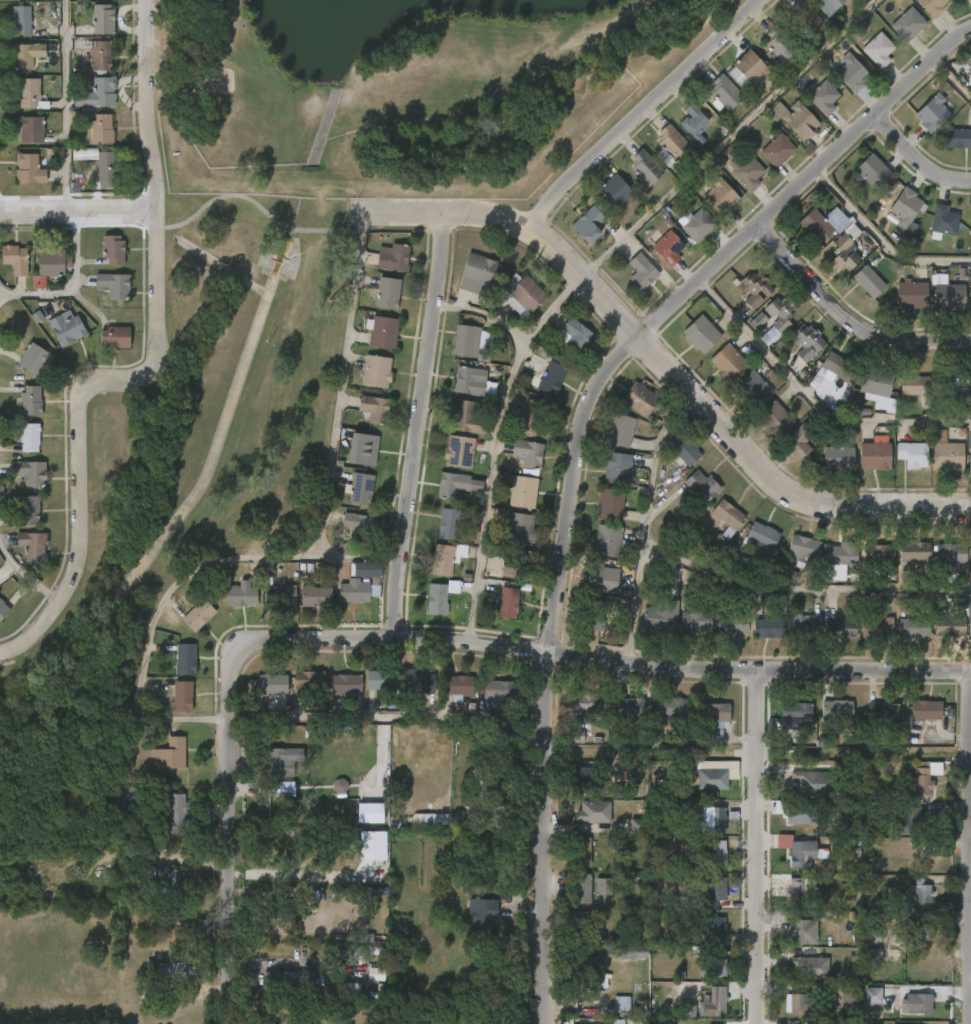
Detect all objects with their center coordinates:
building: (829, 4)
building: (933, 6)
building: (805, 16)
building: (102, 18)
building: (20, 19)
building: (907, 24)
building: (779, 42)
building: (878, 49)
building: (25, 54)
building: (100, 55)
building: (750, 65)
building: (850, 72)
road: (950, 82)
building: (100, 91)
building: (725, 91)
building: (29, 94)
building: (823, 98)
road: (64, 105)
road: (642, 112)
building: (929, 113)
building: (794, 118)
building: (694, 122)
building: (29, 128)
building: (102, 130)
road: (727, 137)
building: (955, 138)
building: (671, 144)
building: (777, 149)
building: (84, 154)
road: (919, 155)
building: (104, 166)
building: (645, 166)
building: (27, 168)
building: (869, 170)
building: (746, 172)
building: (615, 190)
building: (720, 196)
road: (258, 206)
building: (902, 207)
road: (80, 212)
building: (942, 220)
building: (589, 223)
building: (970, 224)
building: (696, 225)
building: (816, 226)
road: (882, 242)
building: (667, 247)
building: (113, 249)
building: (843, 254)
building: (392, 257)
building: (16, 259)
park: (314, 259)
building: (52, 264)
building: (477, 268)
building: (641, 272)
building: (869, 281)
building: (115, 285)
building: (755, 289)
building: (387, 293)
building: (909, 294)
building: (524, 295)
building: (946, 295)
building: (969, 299)
road: (551, 307)
road: (849, 315)
building: (757, 323)
building: (67, 328)
building: (381, 331)
building: (700, 334)
building: (573, 335)
building: (115, 338)
building: (466, 340)
building: (805, 340)
building: (32, 358)
road: (665, 358)
building: (728, 362)
road: (155, 369)
building: (832, 369)
building: (376, 371)
building: (551, 378)
building: (468, 381)
building: (954, 384)
building: (916, 385)
building: (876, 387)
building: (754, 389)
building: (639, 400)
building: (30, 401)
road: (813, 401)
building: (374, 409)
building: (531, 416)
building: (467, 417)
building: (775, 419)
road: (418, 426)
building: (619, 430)
building: (28, 437)
road: (494, 441)
building: (798, 442)
building: (366, 449)
road: (583, 449)
building: (968, 449)
building: (684, 451)
building: (459, 452)
building: (944, 452)
building: (528, 453)
building: (910, 454)
building: (872, 455)
building: (838, 458)
building: (620, 468)
building: (28, 472)
building: (450, 485)
building: (700, 487)
building: (360, 489)
building: (522, 492)
building: (611, 503)
building: (27, 510)
building: (729, 518)
building: (447, 524)
building: (358, 526)
building: (520, 529)
building: (762, 537)
building: (609, 540)
building: (32, 546)
building: (804, 551)
building: (947, 552)
building: (839, 553)
building: (910, 553)
building: (970, 554)
road: (291, 555)
building: (875, 559)
building: (441, 560)
building: (517, 564)
building: (364, 570)
road: (721, 577)
building: (603, 579)
building: (353, 592)
building: (240, 596)
building: (279, 596)
building: (315, 596)
road: (634, 598)
building: (436, 599)
building: (506, 601)
building: (2, 611)
building: (595, 614)
building: (660, 614)
building: (197, 615)
building: (695, 622)
building: (732, 624)
building: (804, 624)
building: (950, 626)
building: (768, 627)
building: (840, 628)
building: (876, 628)
building: (914, 628)
road: (420, 640)
building: (184, 660)
building: (310, 680)
building: (381, 680)
building: (418, 682)
building: (273, 683)
building: (344, 684)
building: (457, 686)
building: (497, 692)
building: (181, 697)
building: (584, 702)
building: (628, 708)
building: (672, 708)
road: (762, 710)
building: (837, 710)
building: (926, 711)
building: (882, 712)
building: (713, 713)
building: (794, 716)
building: (576, 736)
building: (170, 753)
building: (277, 762)
building: (924, 776)
building: (586, 779)
building: (715, 779)
building: (492, 780)
building: (807, 784)
building: (339, 785)
building: (280, 789)
building: (593, 812)
building: (175, 813)
building: (369, 813)
building: (799, 813)
building: (712, 818)
building: (436, 820)
building: (910, 820)
building: (637, 825)
building: (372, 846)
building: (800, 850)
building: (581, 851)
building: (714, 853)
building: (173, 883)
building: (714, 886)
road: (764, 886)
building: (603, 887)
building: (582, 888)
road: (312, 889)
building: (921, 889)
building: (370, 891)
building: (799, 893)
building: (280, 906)
building: (482, 918)
building: (580, 924)
building: (711, 927)
building: (401, 929)
building: (804, 930)
building: (918, 932)
building: (635, 952)
building: (589, 965)
building: (712, 966)
building: (811, 967)
building: (169, 969)
building: (375, 975)
building: (282, 982)
building: (351, 992)
building: (848, 994)
building: (872, 996)
building: (712, 1001)
building: (801, 1002)
building: (919, 1003)
building: (621, 1004)
building: (920, 1022)

